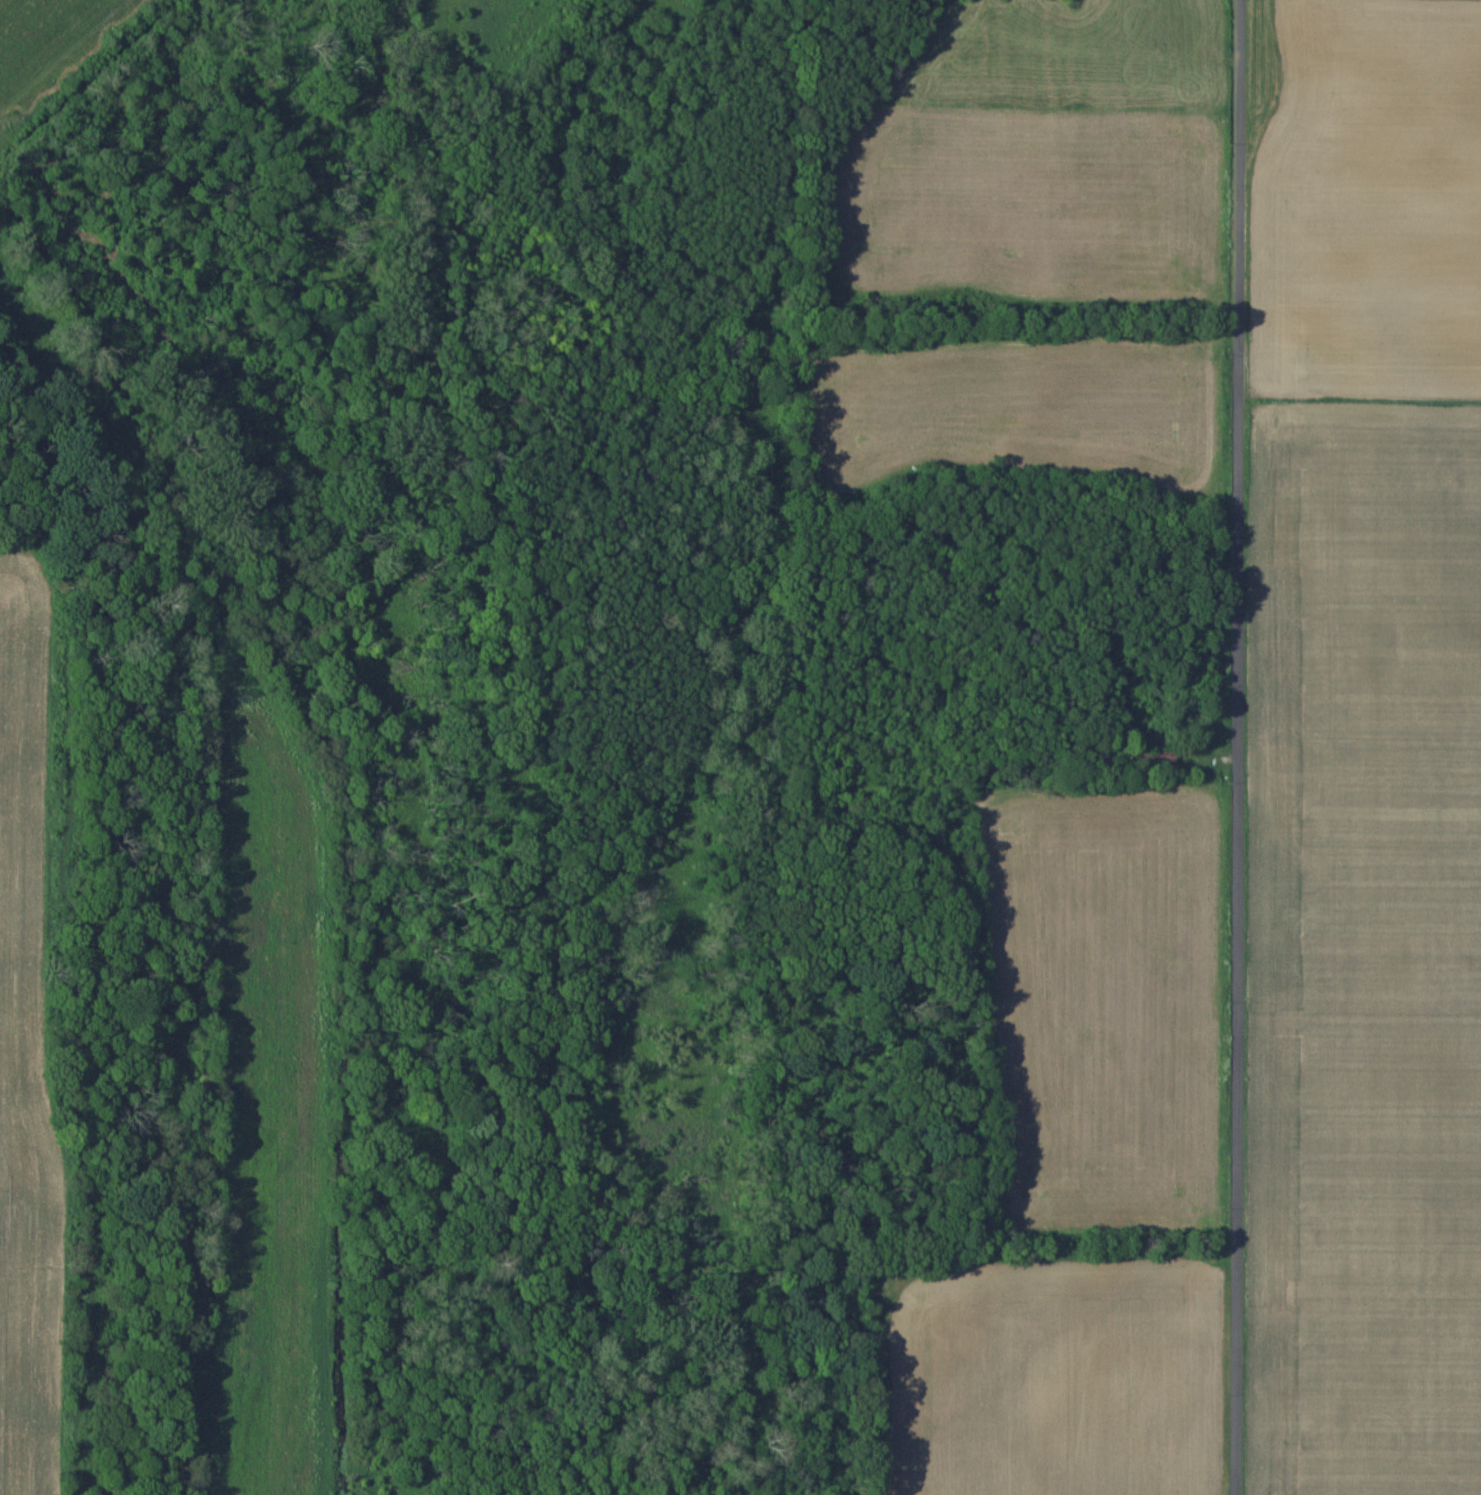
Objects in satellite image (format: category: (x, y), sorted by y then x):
road: (1236, 747)

